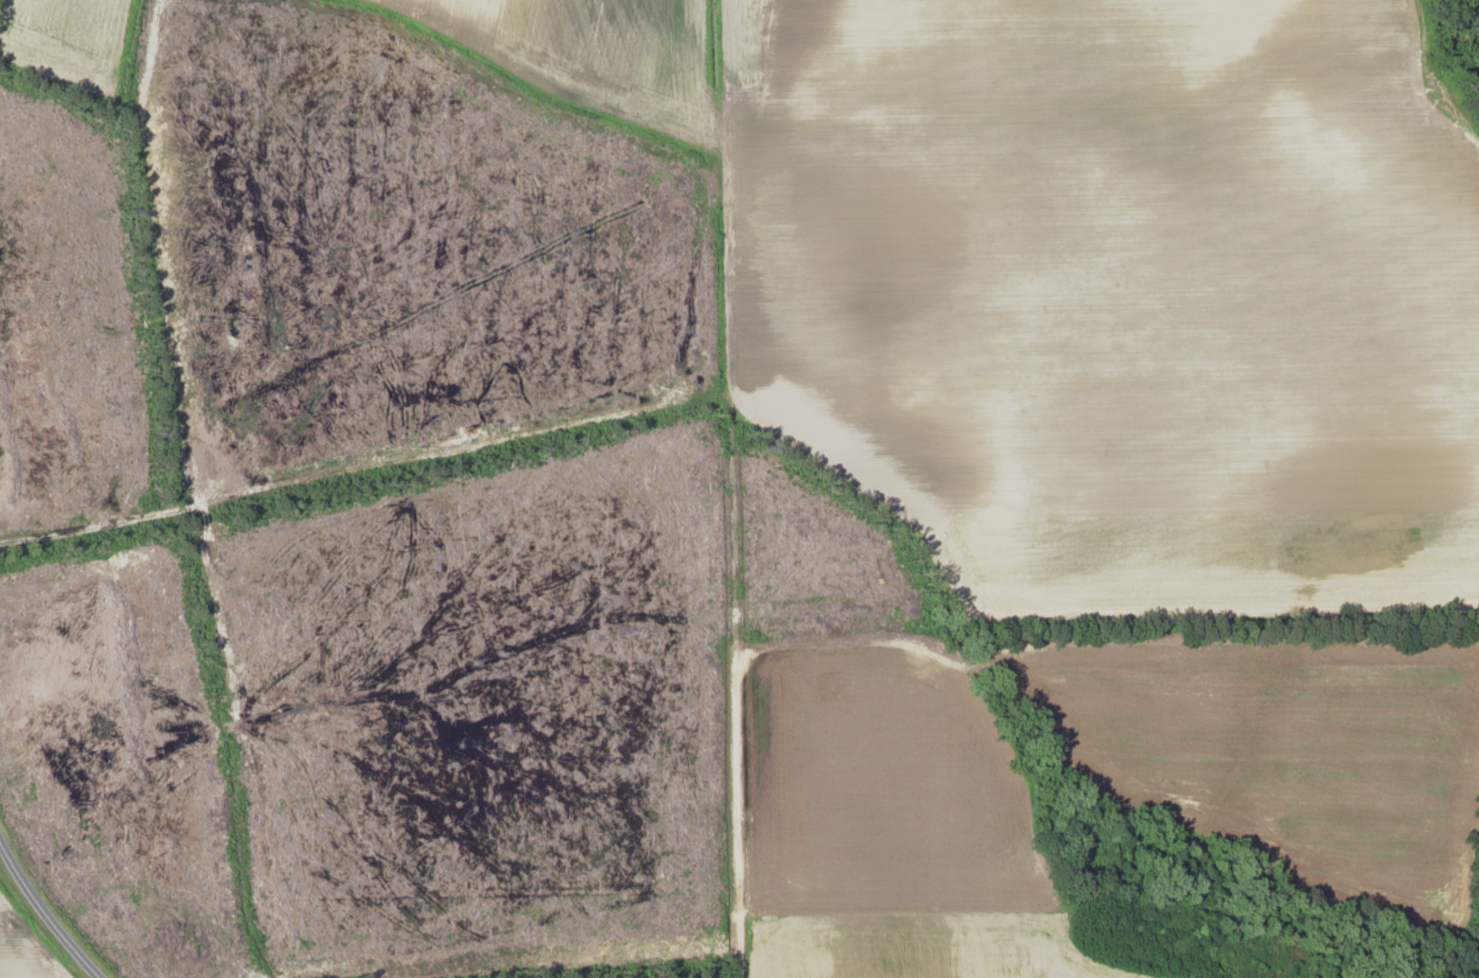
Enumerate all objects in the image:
road: (46, 919)

